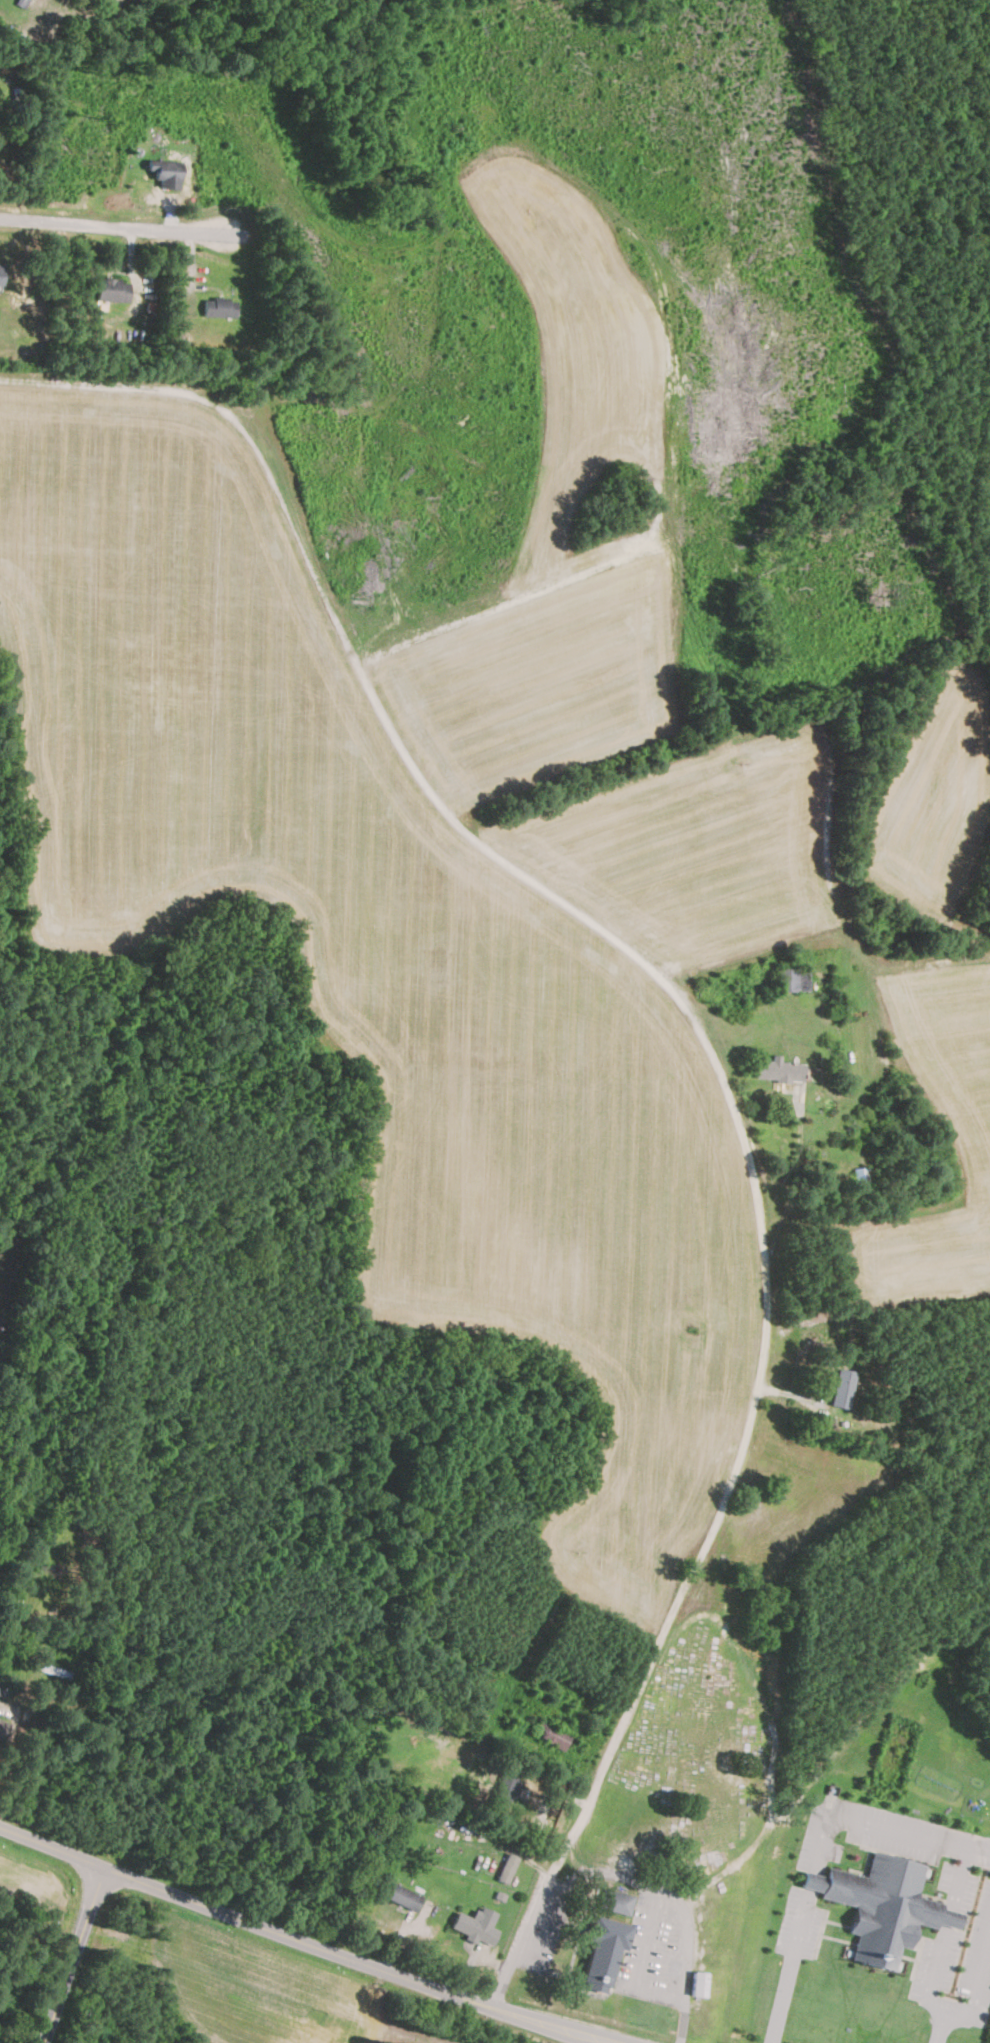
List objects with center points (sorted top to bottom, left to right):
building: (21, 2)
building: (167, 172)
road: (122, 225)
building: (1, 273)
building: (112, 289)
building: (220, 306)
building: (794, 978)
building: (779, 1069)
road: (794, 1186)
building: (844, 1387)
road: (664, 1635)
building: (3, 1728)
building: (552, 1734)
building: (537, 1782)
building: (507, 1784)
road: (886, 1829)
building: (507, 1866)
road: (961, 1879)
road: (813, 1880)
building: (402, 1895)
building: (873, 1898)
building: (618, 1901)
road: (679, 1902)
road: (952, 1917)
building: (476, 1925)
road: (306, 1944)
building: (604, 1952)
road: (76, 1954)
road: (639, 1962)
road: (791, 1966)
road: (934, 1975)
road: (974, 1997)

